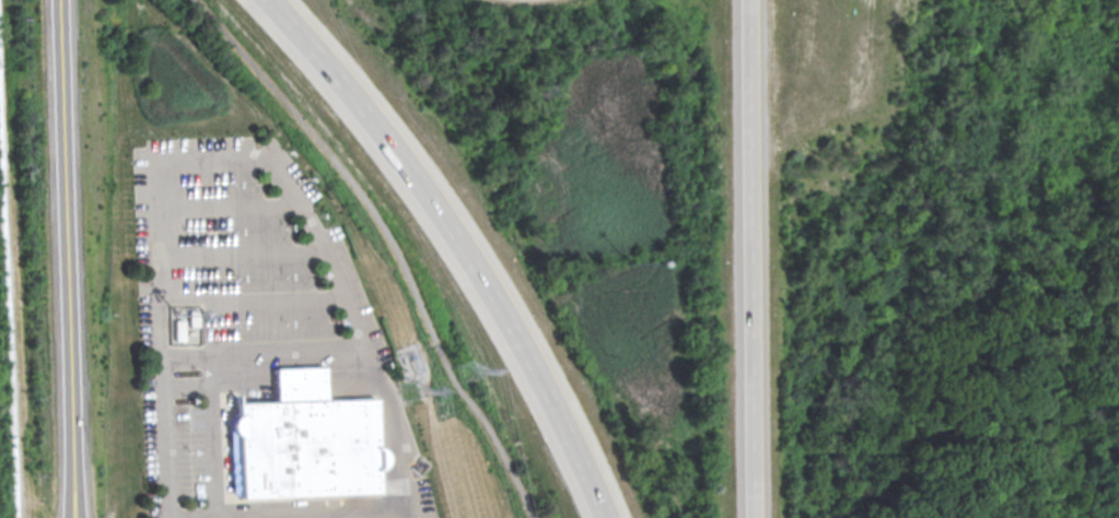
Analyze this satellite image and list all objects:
road: (228, 158)
road: (224, 203)
road: (392, 242)
road: (459, 244)
road: (237, 250)
road: (60, 259)
road: (746, 259)
road: (10, 284)
road: (215, 363)
power tower: (467, 367)
power tower: (412, 395)
building: (305, 442)
road: (289, 508)

